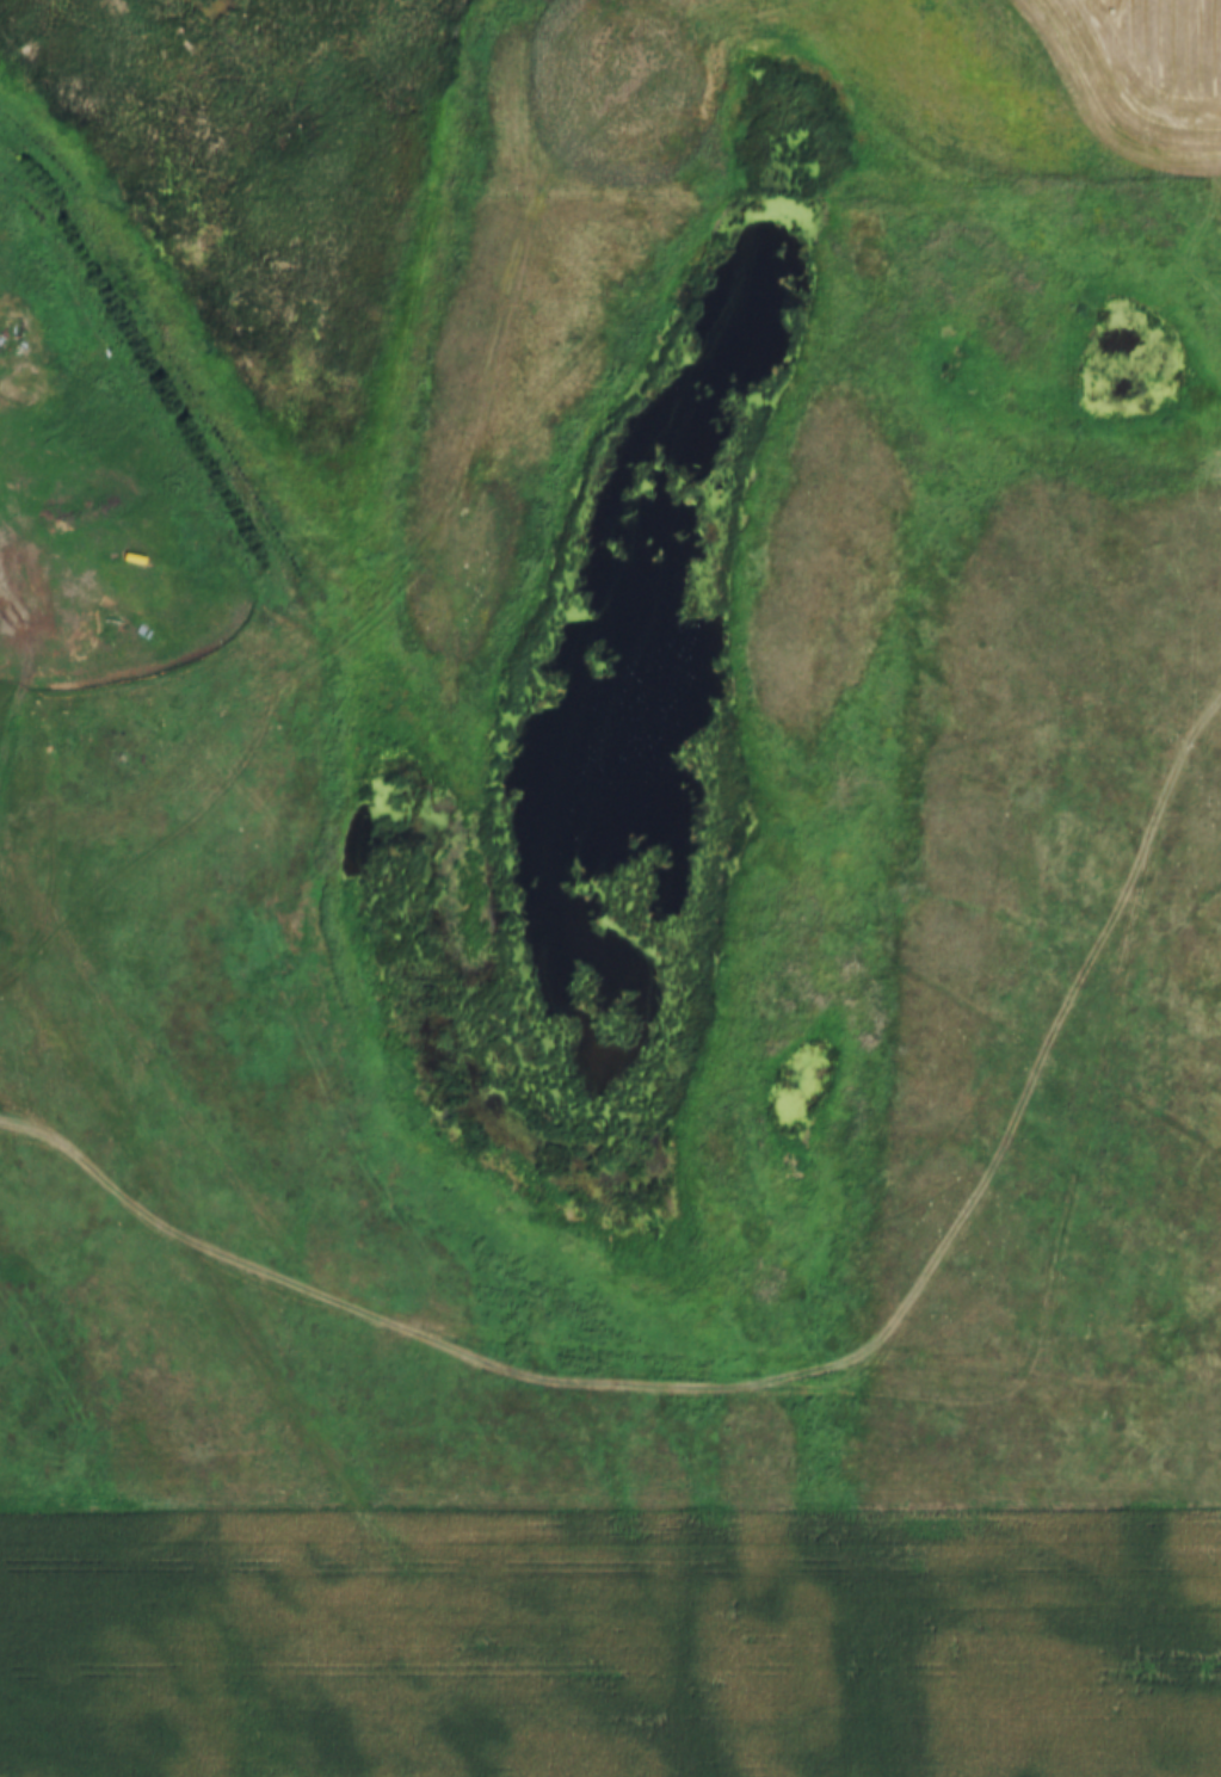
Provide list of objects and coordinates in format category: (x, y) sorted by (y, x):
building: (78, 649)

